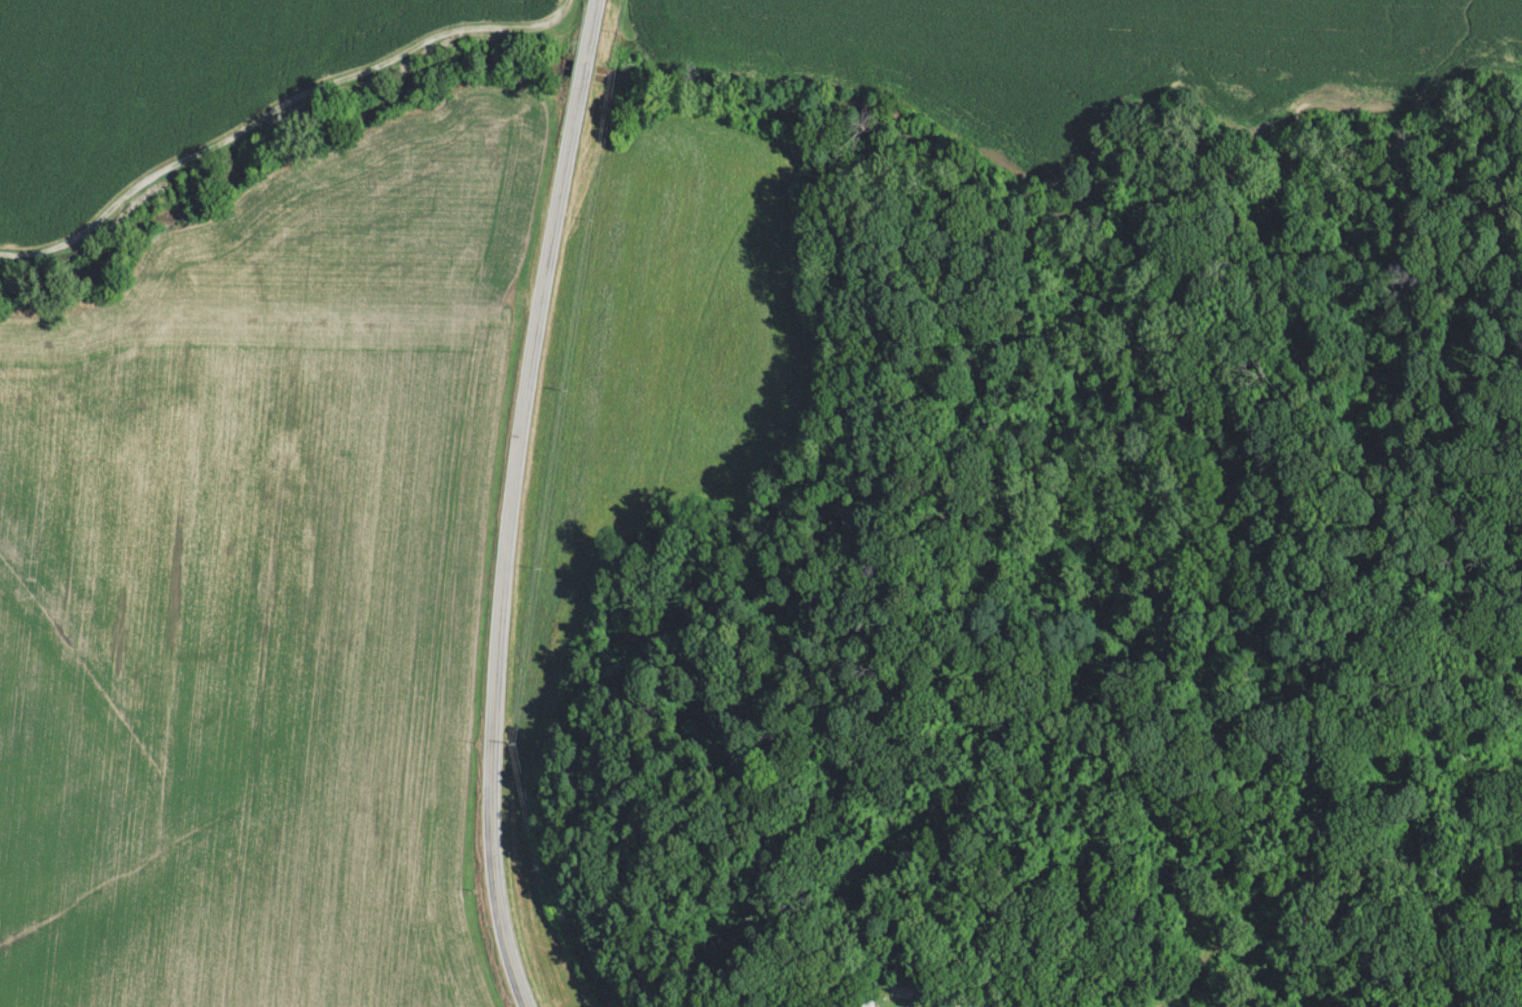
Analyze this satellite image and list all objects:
road: (510, 502)

